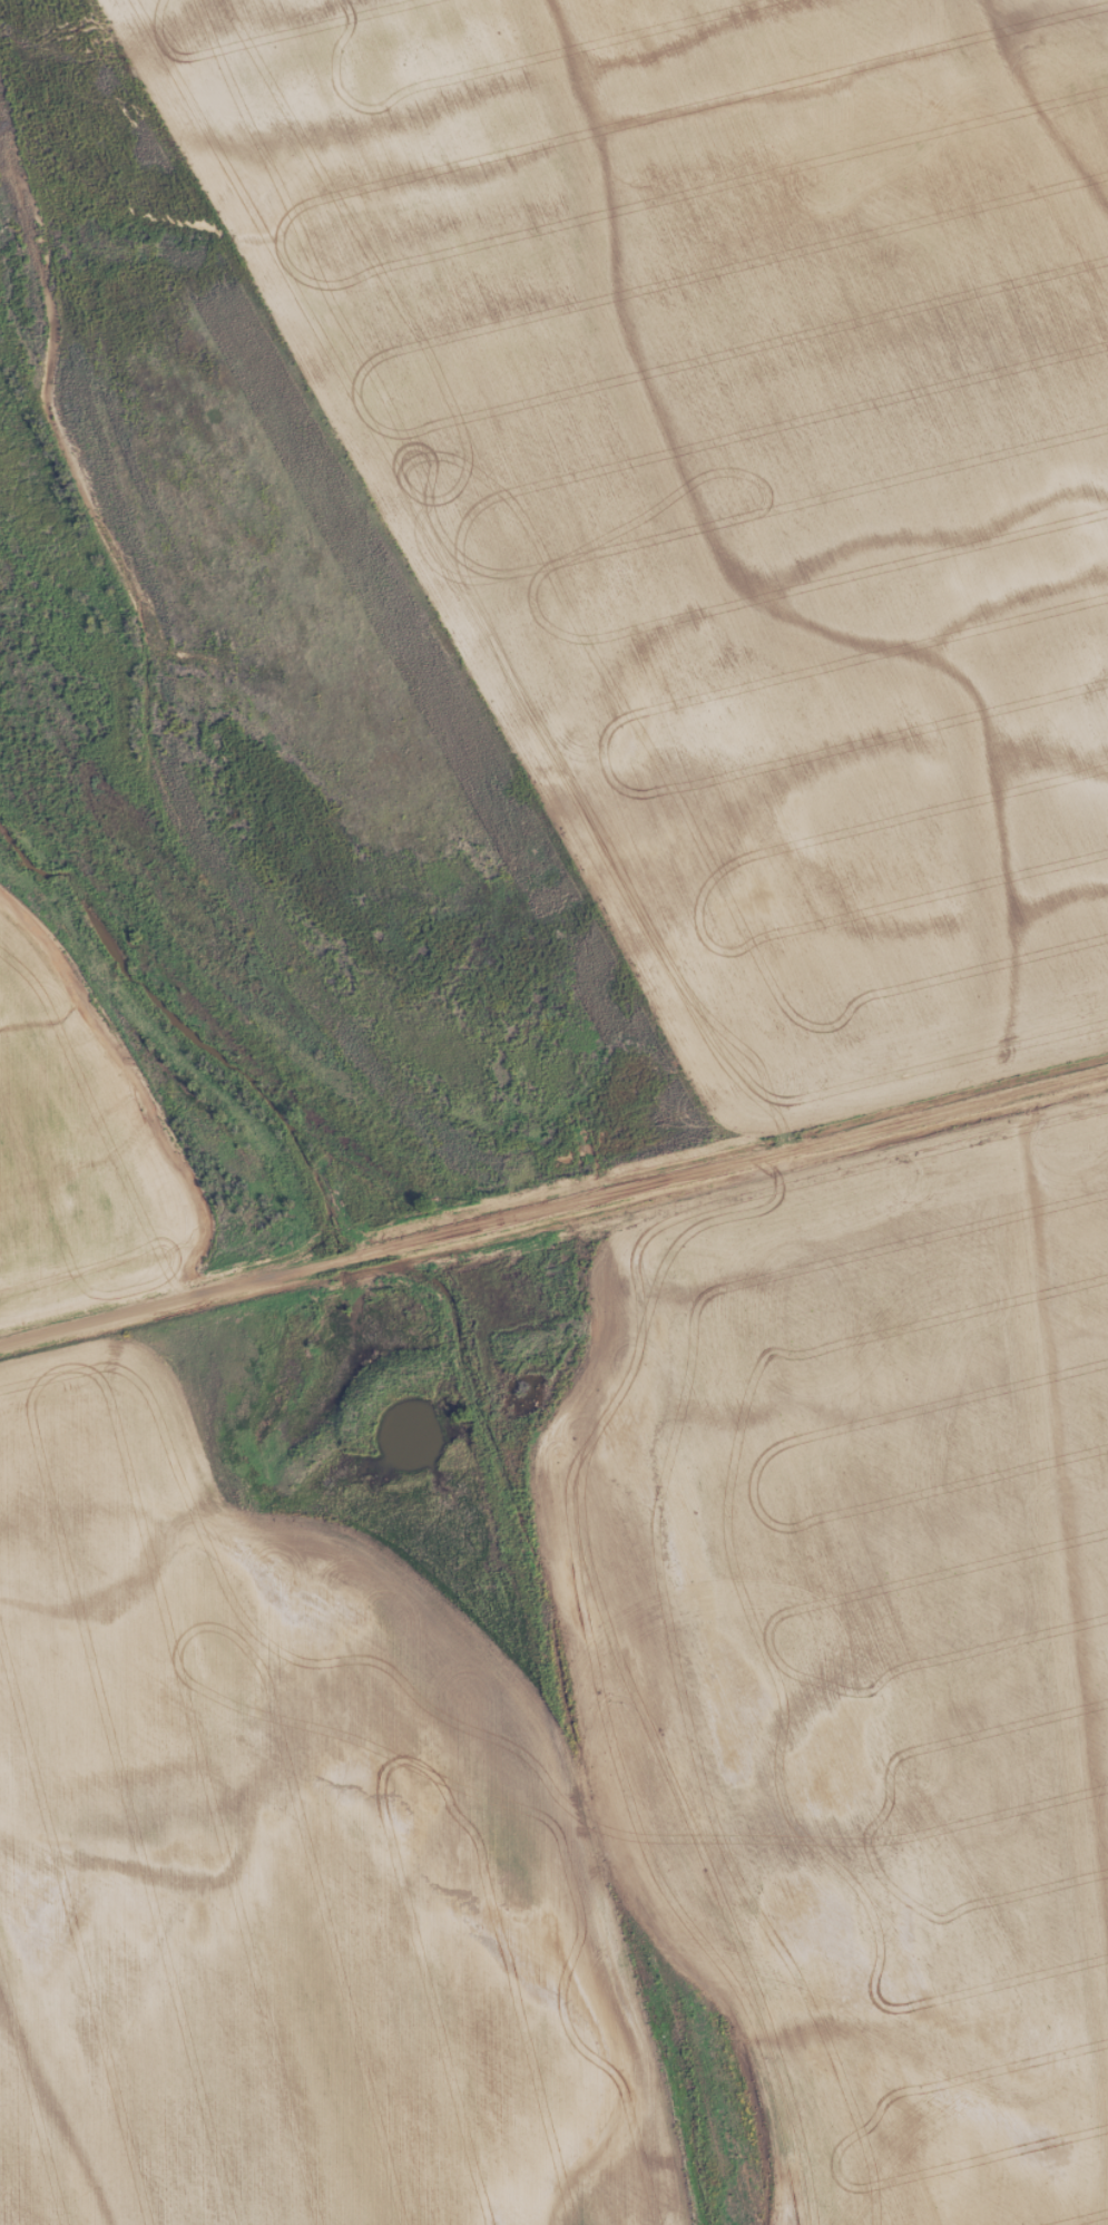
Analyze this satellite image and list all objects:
road: (553, 1202)

